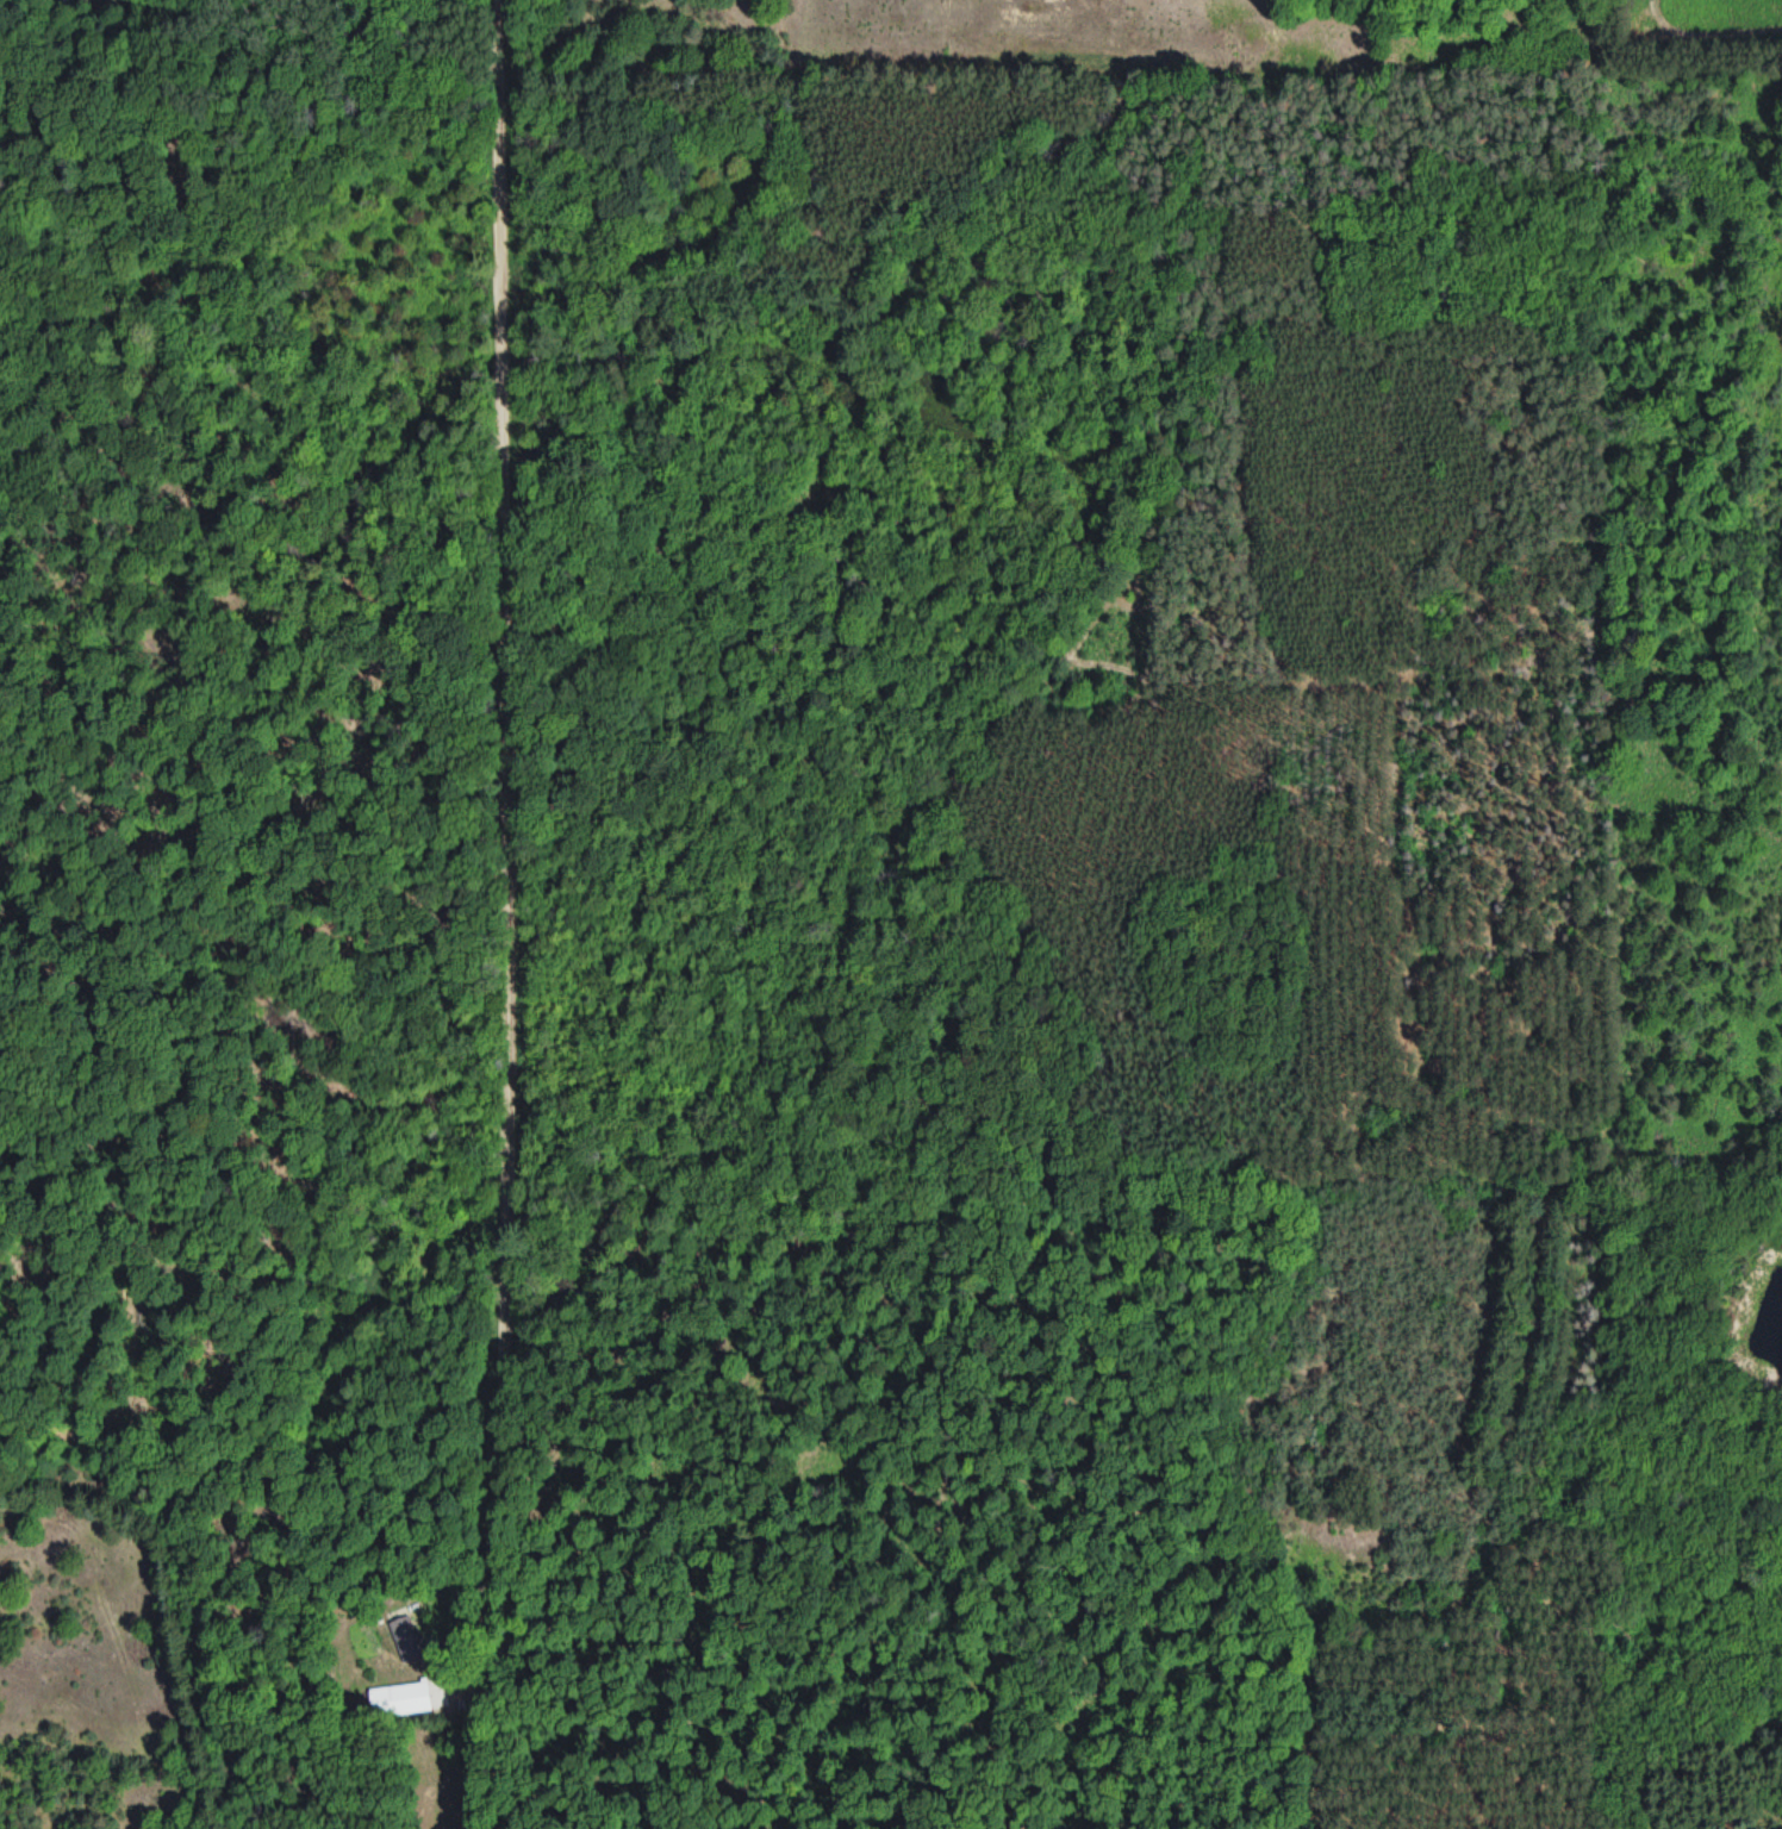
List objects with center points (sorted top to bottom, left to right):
road: (503, 913)
building: (416, 1638)

